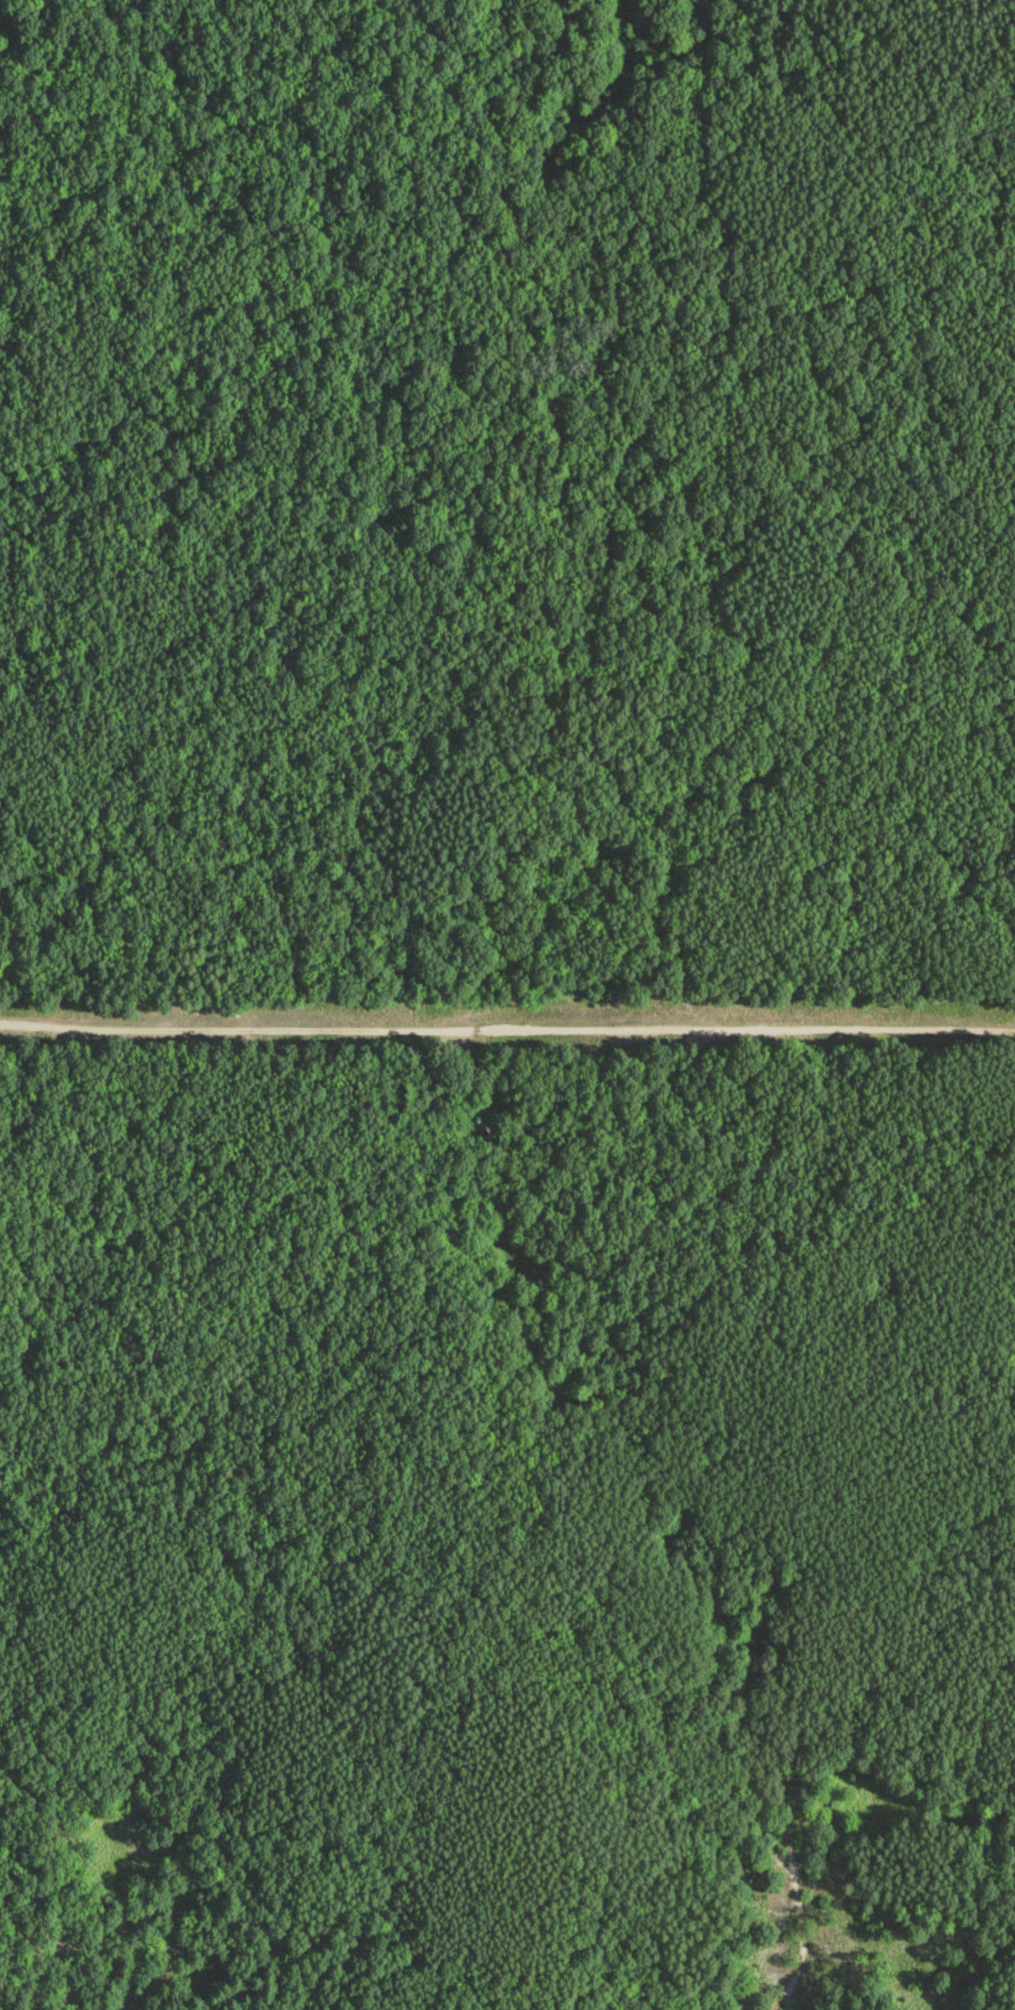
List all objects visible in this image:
road: (507, 1035)
road: (64, 1226)
road: (645, 1525)

